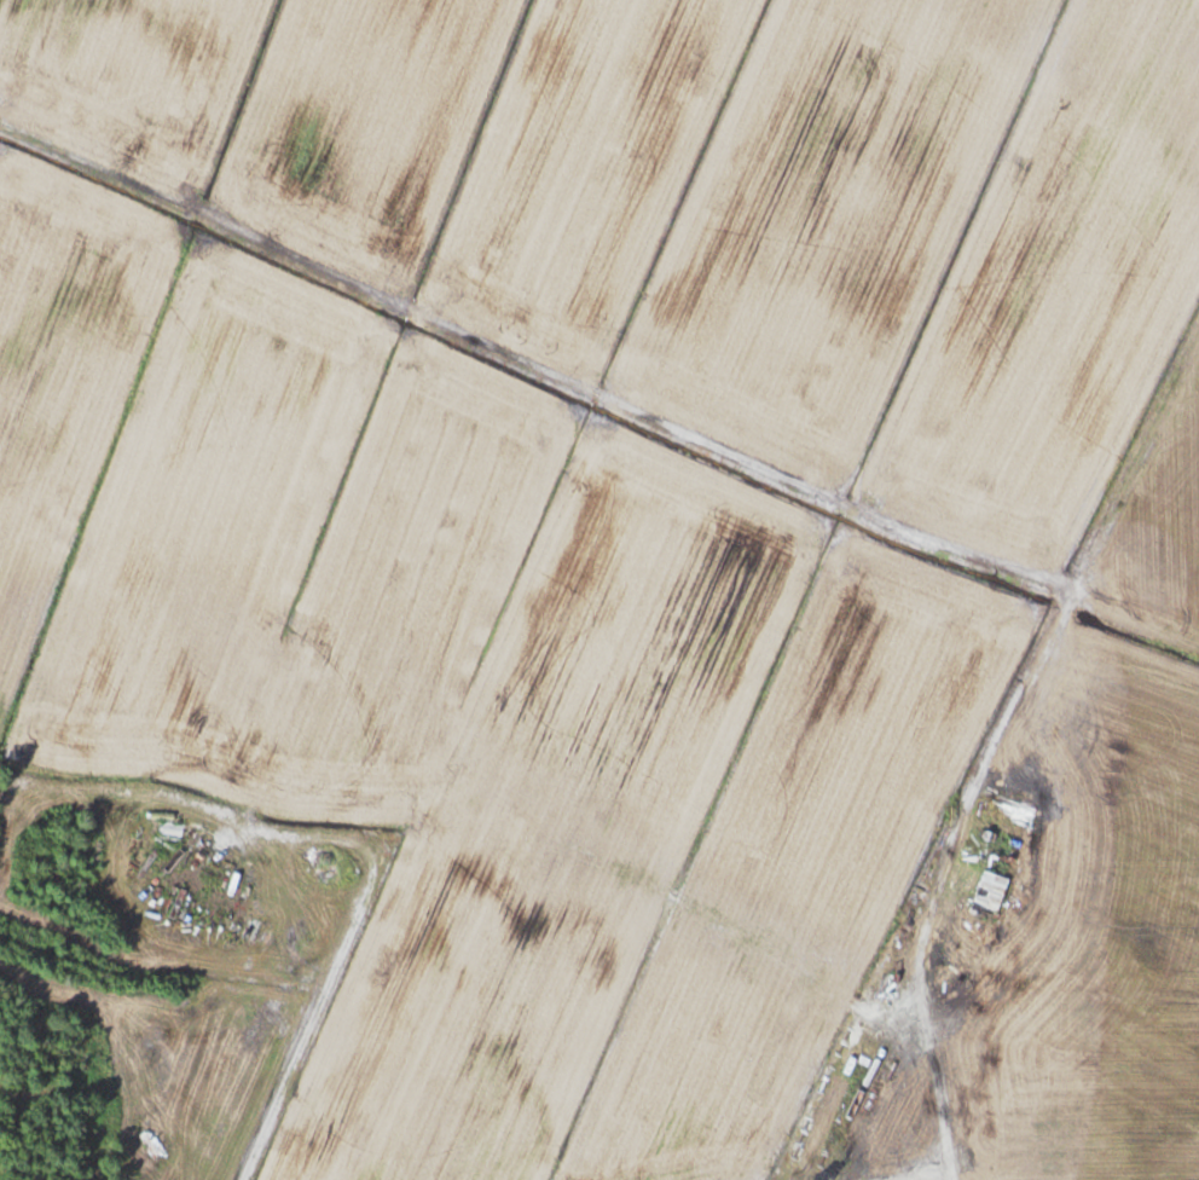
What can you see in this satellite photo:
road: (913, 1024)

